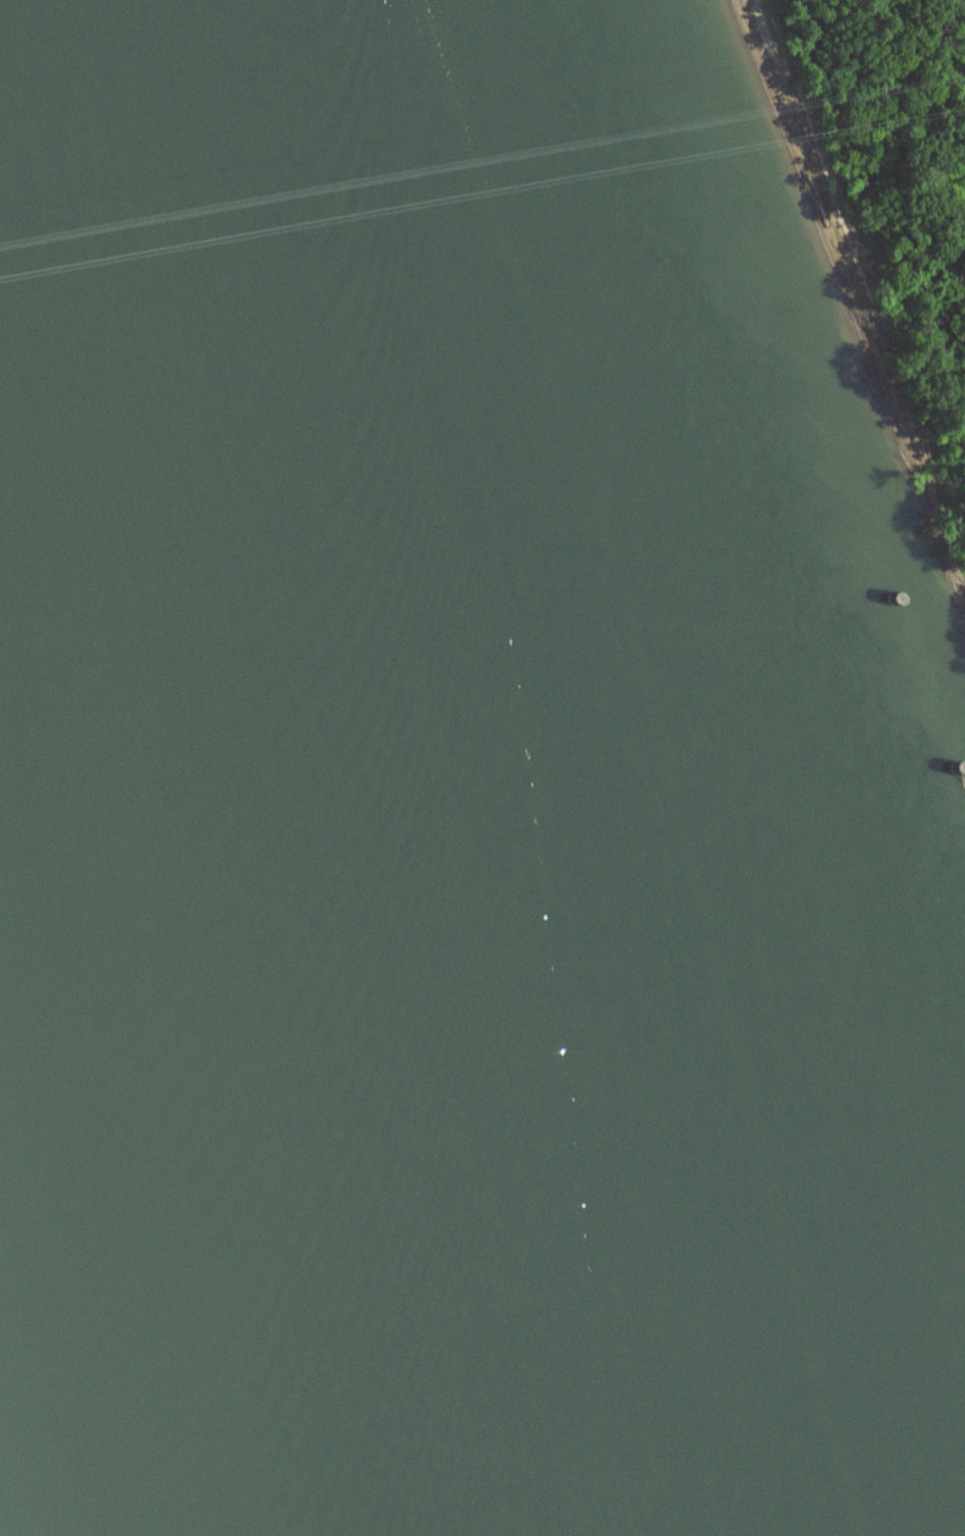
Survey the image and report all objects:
river: (371, 758)

